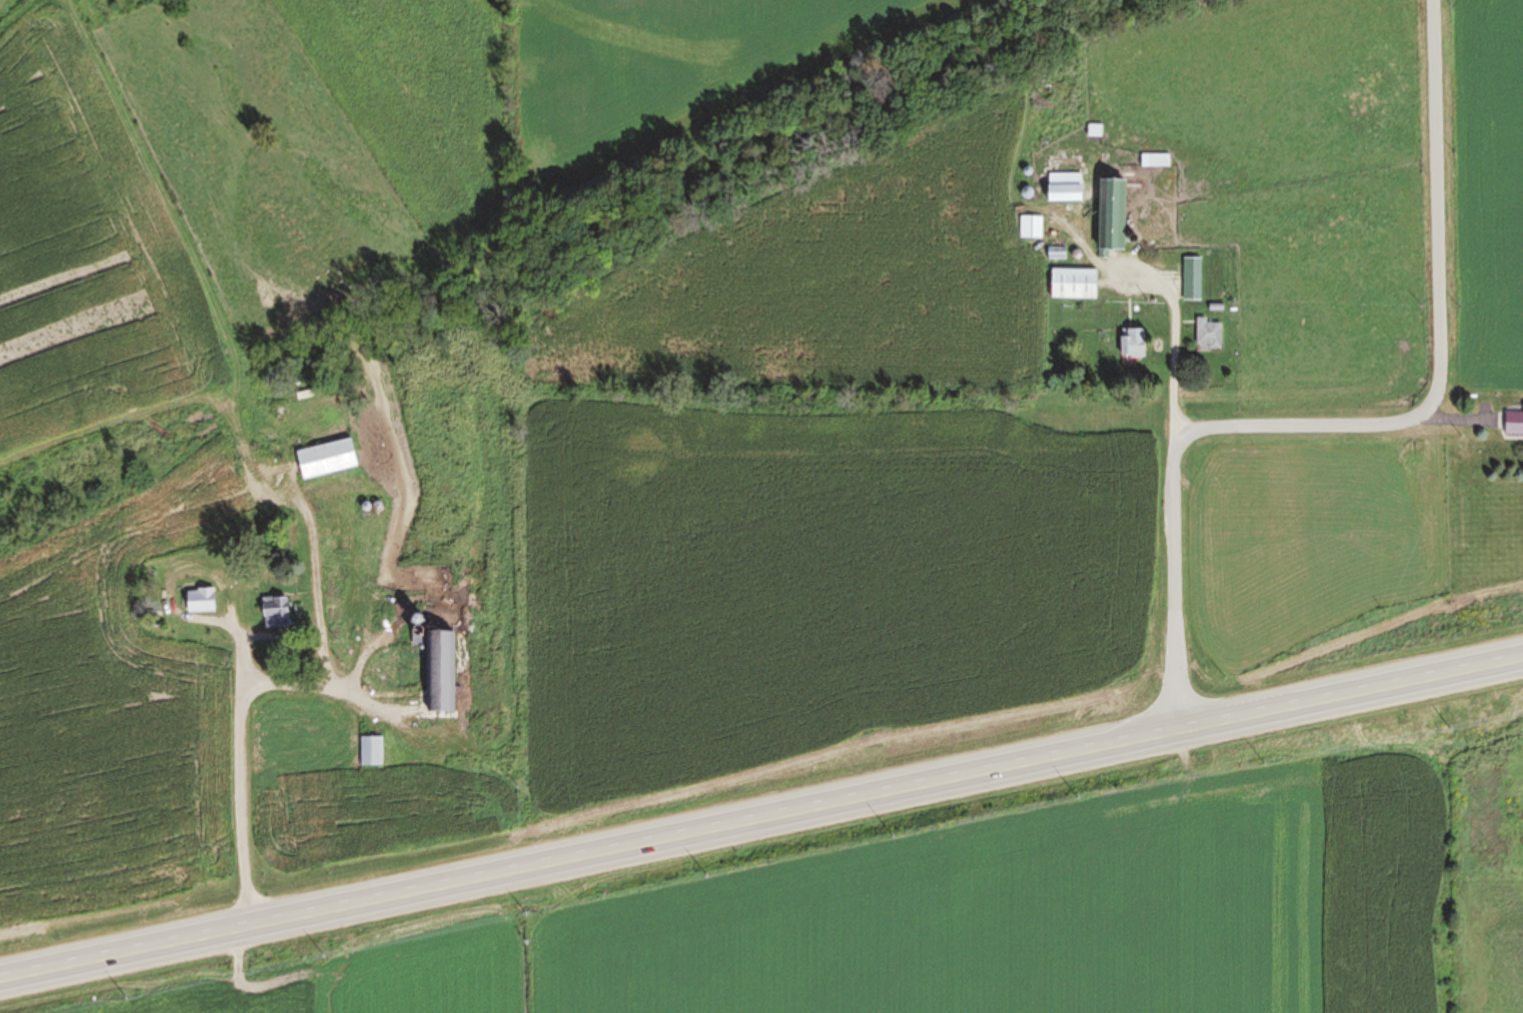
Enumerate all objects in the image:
building: (1067, 188)
road: (1435, 208)
building: (1113, 216)
building: (1030, 227)
building: (1074, 284)
building: (1192, 286)
building: (1209, 335)
building: (1134, 343)
building: (1515, 424)
building: (328, 460)
road: (1174, 462)
building: (202, 601)
building: (276, 612)
building: (443, 669)
road: (233, 746)
building: (372, 751)
road: (761, 815)

